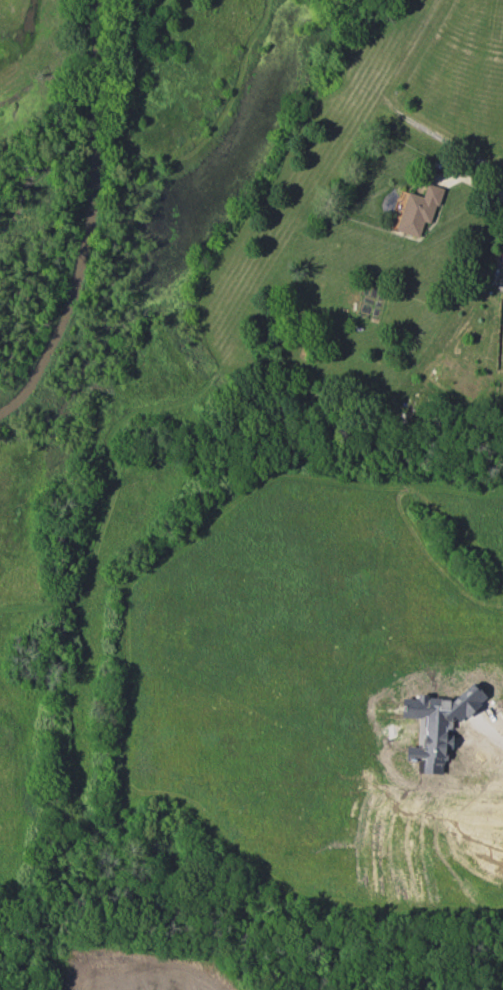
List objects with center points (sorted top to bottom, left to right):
building: (418, 210)
road: (494, 737)
park: (236, 954)

